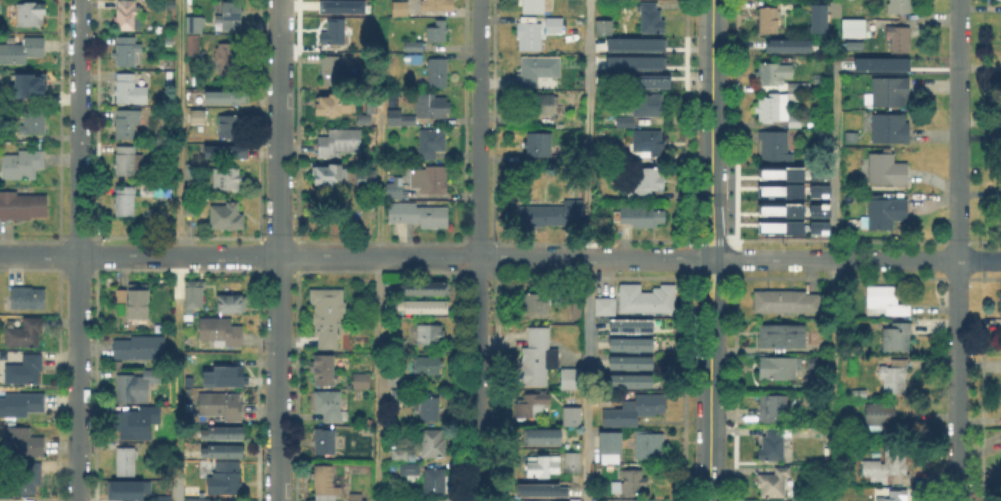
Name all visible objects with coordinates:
building: (169, 3)
building: (790, 4)
building: (340, 6)
building: (432, 6)
building: (536, 6)
building: (898, 7)
building: (400, 9)
building: (31, 11)
building: (129, 14)
building: (230, 16)
building: (653, 17)
building: (816, 17)
building: (769, 20)
building: (191, 23)
building: (553, 26)
building: (604, 26)
building: (851, 26)
building: (332, 31)
building: (436, 33)
building: (531, 35)
building: (900, 40)
building: (633, 43)
building: (791, 43)
building: (851, 44)
building: (414, 45)
building: (192, 47)
building: (23, 49)
building: (129, 50)
building: (227, 60)
building: (633, 61)
building: (879, 63)
building: (539, 68)
building: (333, 69)
building: (772, 73)
building: (437, 74)
building: (603, 77)
building: (170, 78)
building: (642, 80)
building: (29, 85)
building: (128, 85)
building: (890, 88)
building: (228, 94)
building: (337, 100)
building: (194, 102)
building: (433, 104)
building: (648, 104)
building: (540, 107)
building: (780, 108)
building: (195, 115)
building: (396, 116)
building: (364, 118)
building: (410, 119)
building: (626, 122)
building: (32, 123)
building: (128, 123)
building: (891, 125)
building: (230, 129)
building: (853, 136)
building: (339, 141)
building: (433, 141)
building: (650, 141)
building: (539, 144)
building: (38, 145)
building: (776, 145)
building: (225, 150)
building: (615, 151)
building: (566, 159)
road: (834, 159)
building: (126, 160)
building: (140, 162)
building: (22, 164)
building: (886, 170)
building: (195, 171)
building: (779, 172)
building: (817, 173)
building: (331, 174)
road: (957, 174)
building: (367, 175)
building: (430, 177)
building: (229, 178)
building: (649, 181)
building: (394, 189)
building: (779, 189)
building: (155, 190)
building: (818, 190)
building: (126, 201)
building: (22, 204)
building: (192, 206)
building: (779, 209)
building: (817, 209)
building: (419, 214)
building: (556, 214)
building: (228, 215)
building: (883, 215)
building: (1000, 217)
building: (637, 220)
building: (779, 226)
building: (817, 226)
road: (78, 250)
road: (179, 250)
road: (276, 250)
road: (380, 250)
road: (479, 250)
road: (587, 250)
road: (709, 250)
road: (500, 256)
building: (426, 287)
building: (191, 293)
building: (643, 297)
building: (25, 298)
building: (543, 300)
building: (999, 301)
building: (139, 303)
building: (233, 303)
building: (786, 303)
building: (885, 304)
building: (426, 305)
building: (602, 305)
building: (328, 312)
building: (635, 323)
building: (222, 331)
building: (26, 332)
building: (431, 334)
building: (783, 337)
building: (897, 338)
building: (635, 341)
building: (142, 345)
building: (537, 359)
building: (634, 360)
building: (119, 364)
building: (817, 364)
building: (428, 365)
building: (22, 368)
building: (325, 368)
building: (777, 371)
building: (227, 375)
building: (572, 378)
building: (634, 378)
building: (894, 378)
road: (833, 379)
building: (363, 380)
building: (190, 381)
building: (400, 382)
building: (136, 385)
building: (189, 392)
building: (404, 394)
building: (22, 403)
building: (331, 404)
building: (533, 404)
building: (222, 405)
building: (428, 407)
building: (632, 409)
building: (773, 410)
building: (573, 416)
building: (880, 418)
building: (137, 421)
road: (957, 425)
building: (223, 430)
building: (544, 435)
building: (325, 440)
building: (22, 441)
building: (434, 443)
building: (611, 443)
building: (773, 443)
building: (648, 447)
building: (222, 450)
building: (401, 454)
building: (573, 460)
building: (125, 462)
building: (541, 465)
building: (889, 467)
building: (411, 472)
building: (23, 479)
building: (325, 479)
building: (437, 479)
building: (224, 481)
building: (633, 481)
building: (773, 484)
building: (130, 488)
building: (544, 488)
building: (353, 496)
building: (897, 496)
building: (164, 498)
building: (6, 499)
building: (197, 499)
building: (228, 500)
building: (412, 500)
building: (639, 500)
building: (795, 500)

